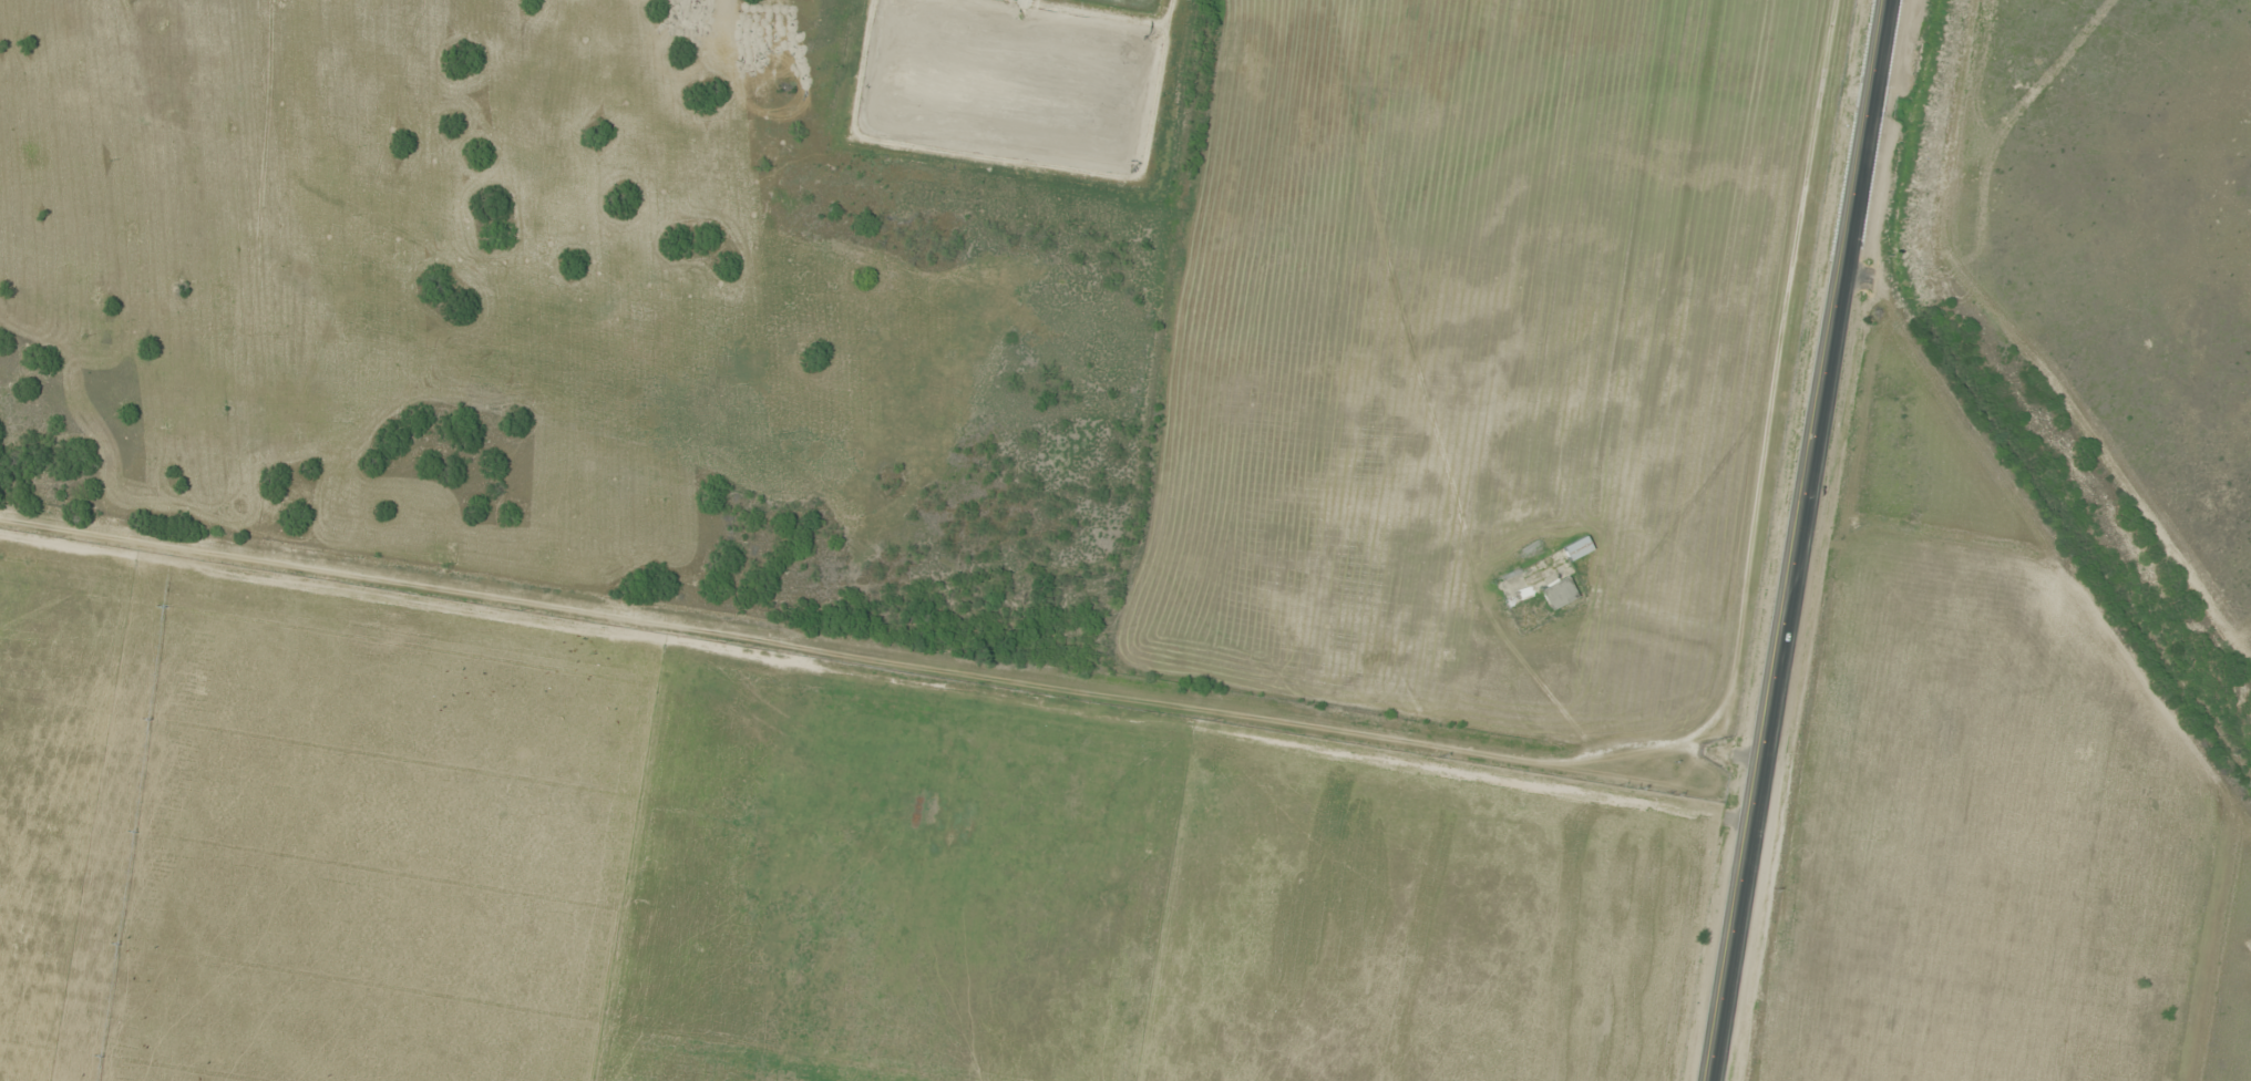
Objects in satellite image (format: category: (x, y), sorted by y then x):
airport: (1673, 28)
road: (1795, 539)
building: (1579, 547)
building: (1559, 591)
road: (1186, 693)

